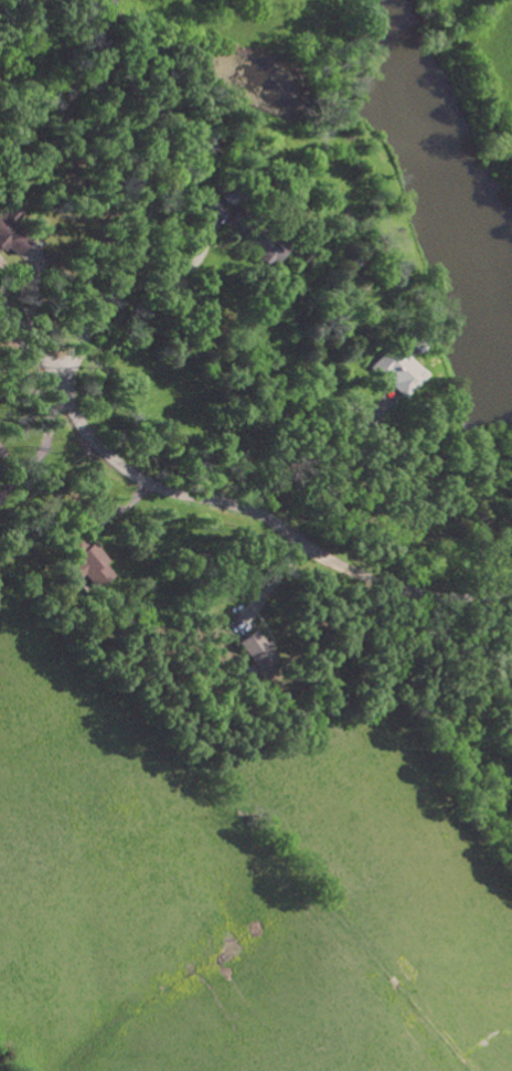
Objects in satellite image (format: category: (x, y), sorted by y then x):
road: (136, 197)
building: (10, 233)
building: (263, 246)
building: (397, 373)
road: (25, 390)
road: (44, 449)
road: (9, 464)
road: (220, 500)
building: (85, 563)
building: (256, 650)

